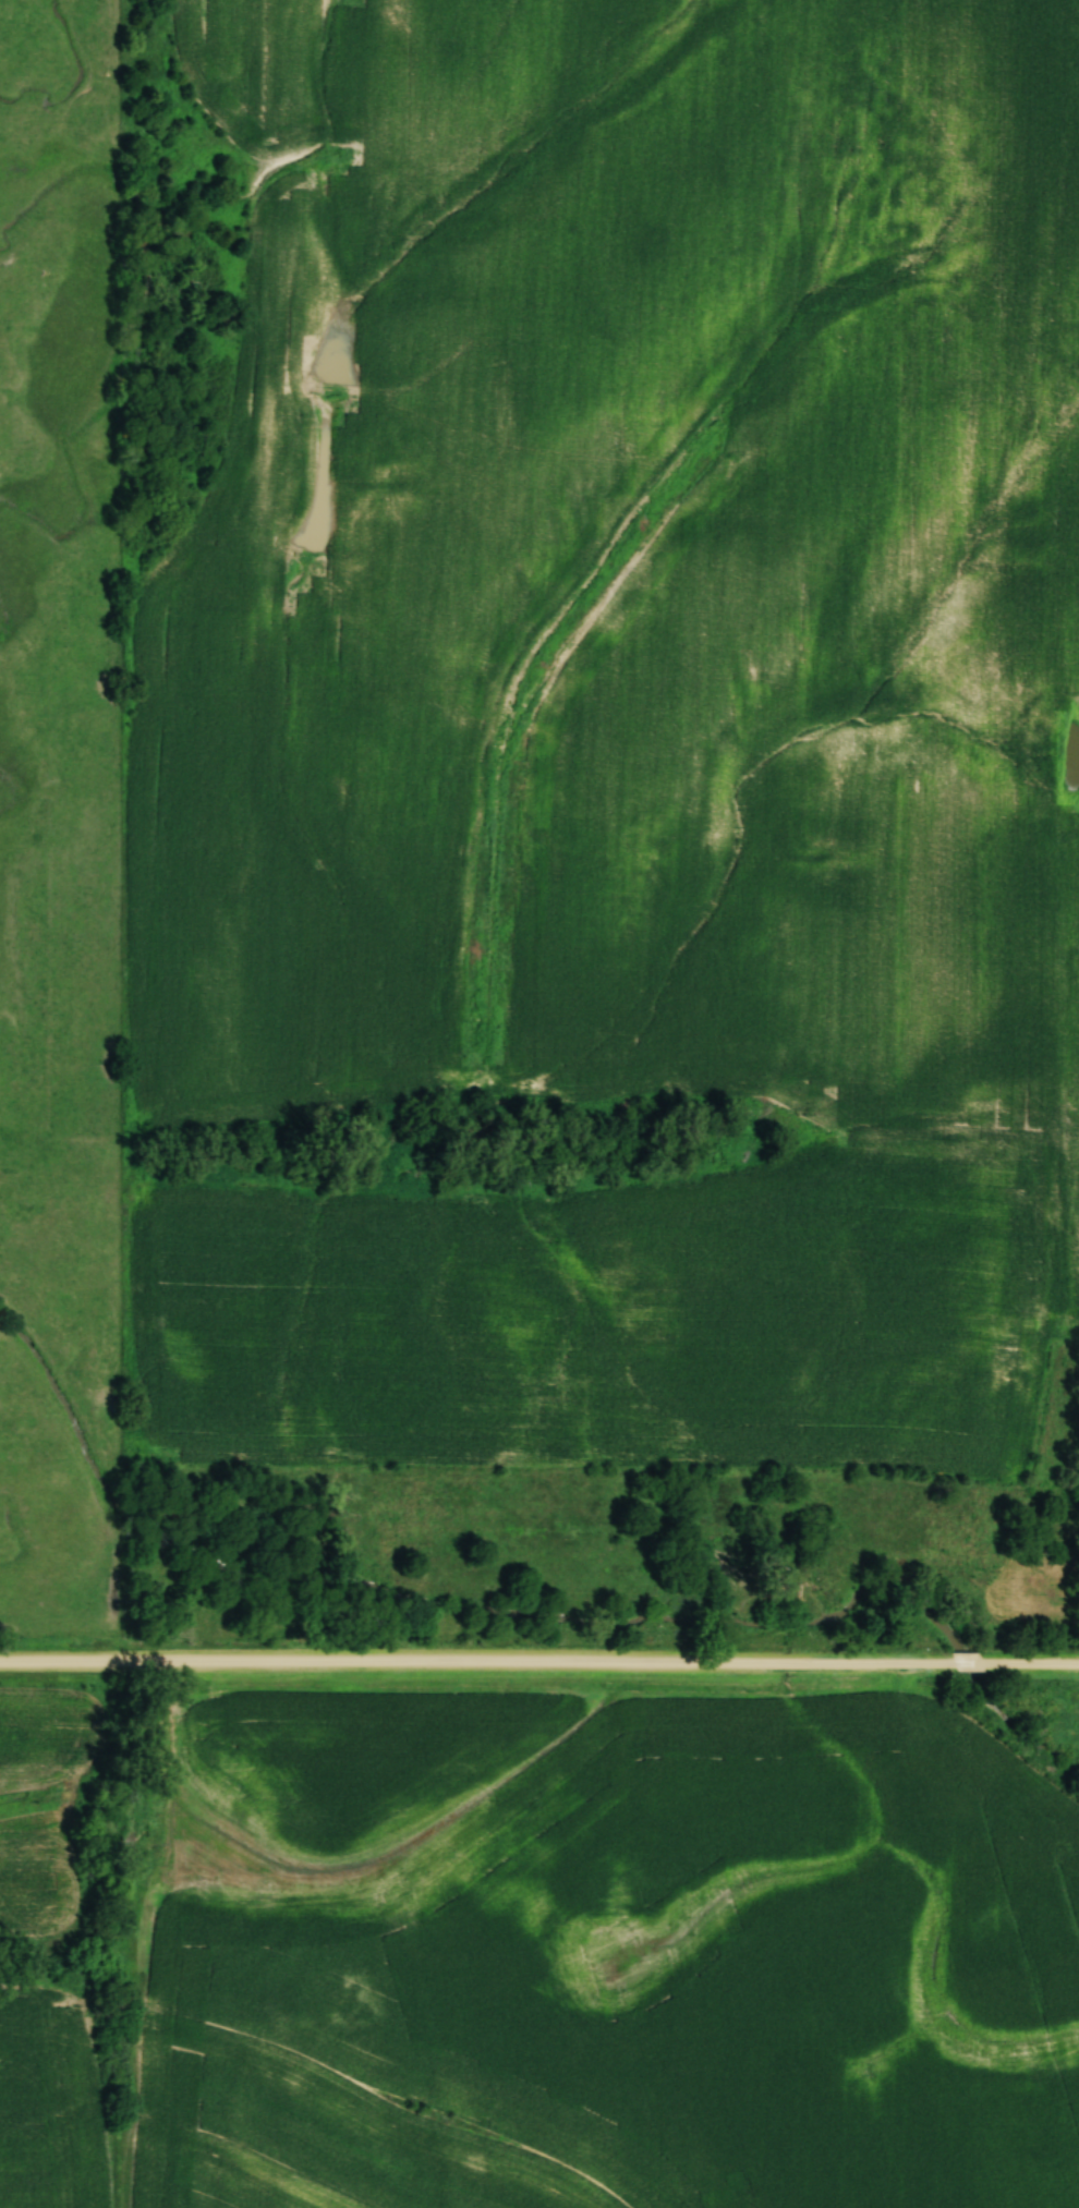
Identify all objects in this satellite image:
road: (538, 1663)

